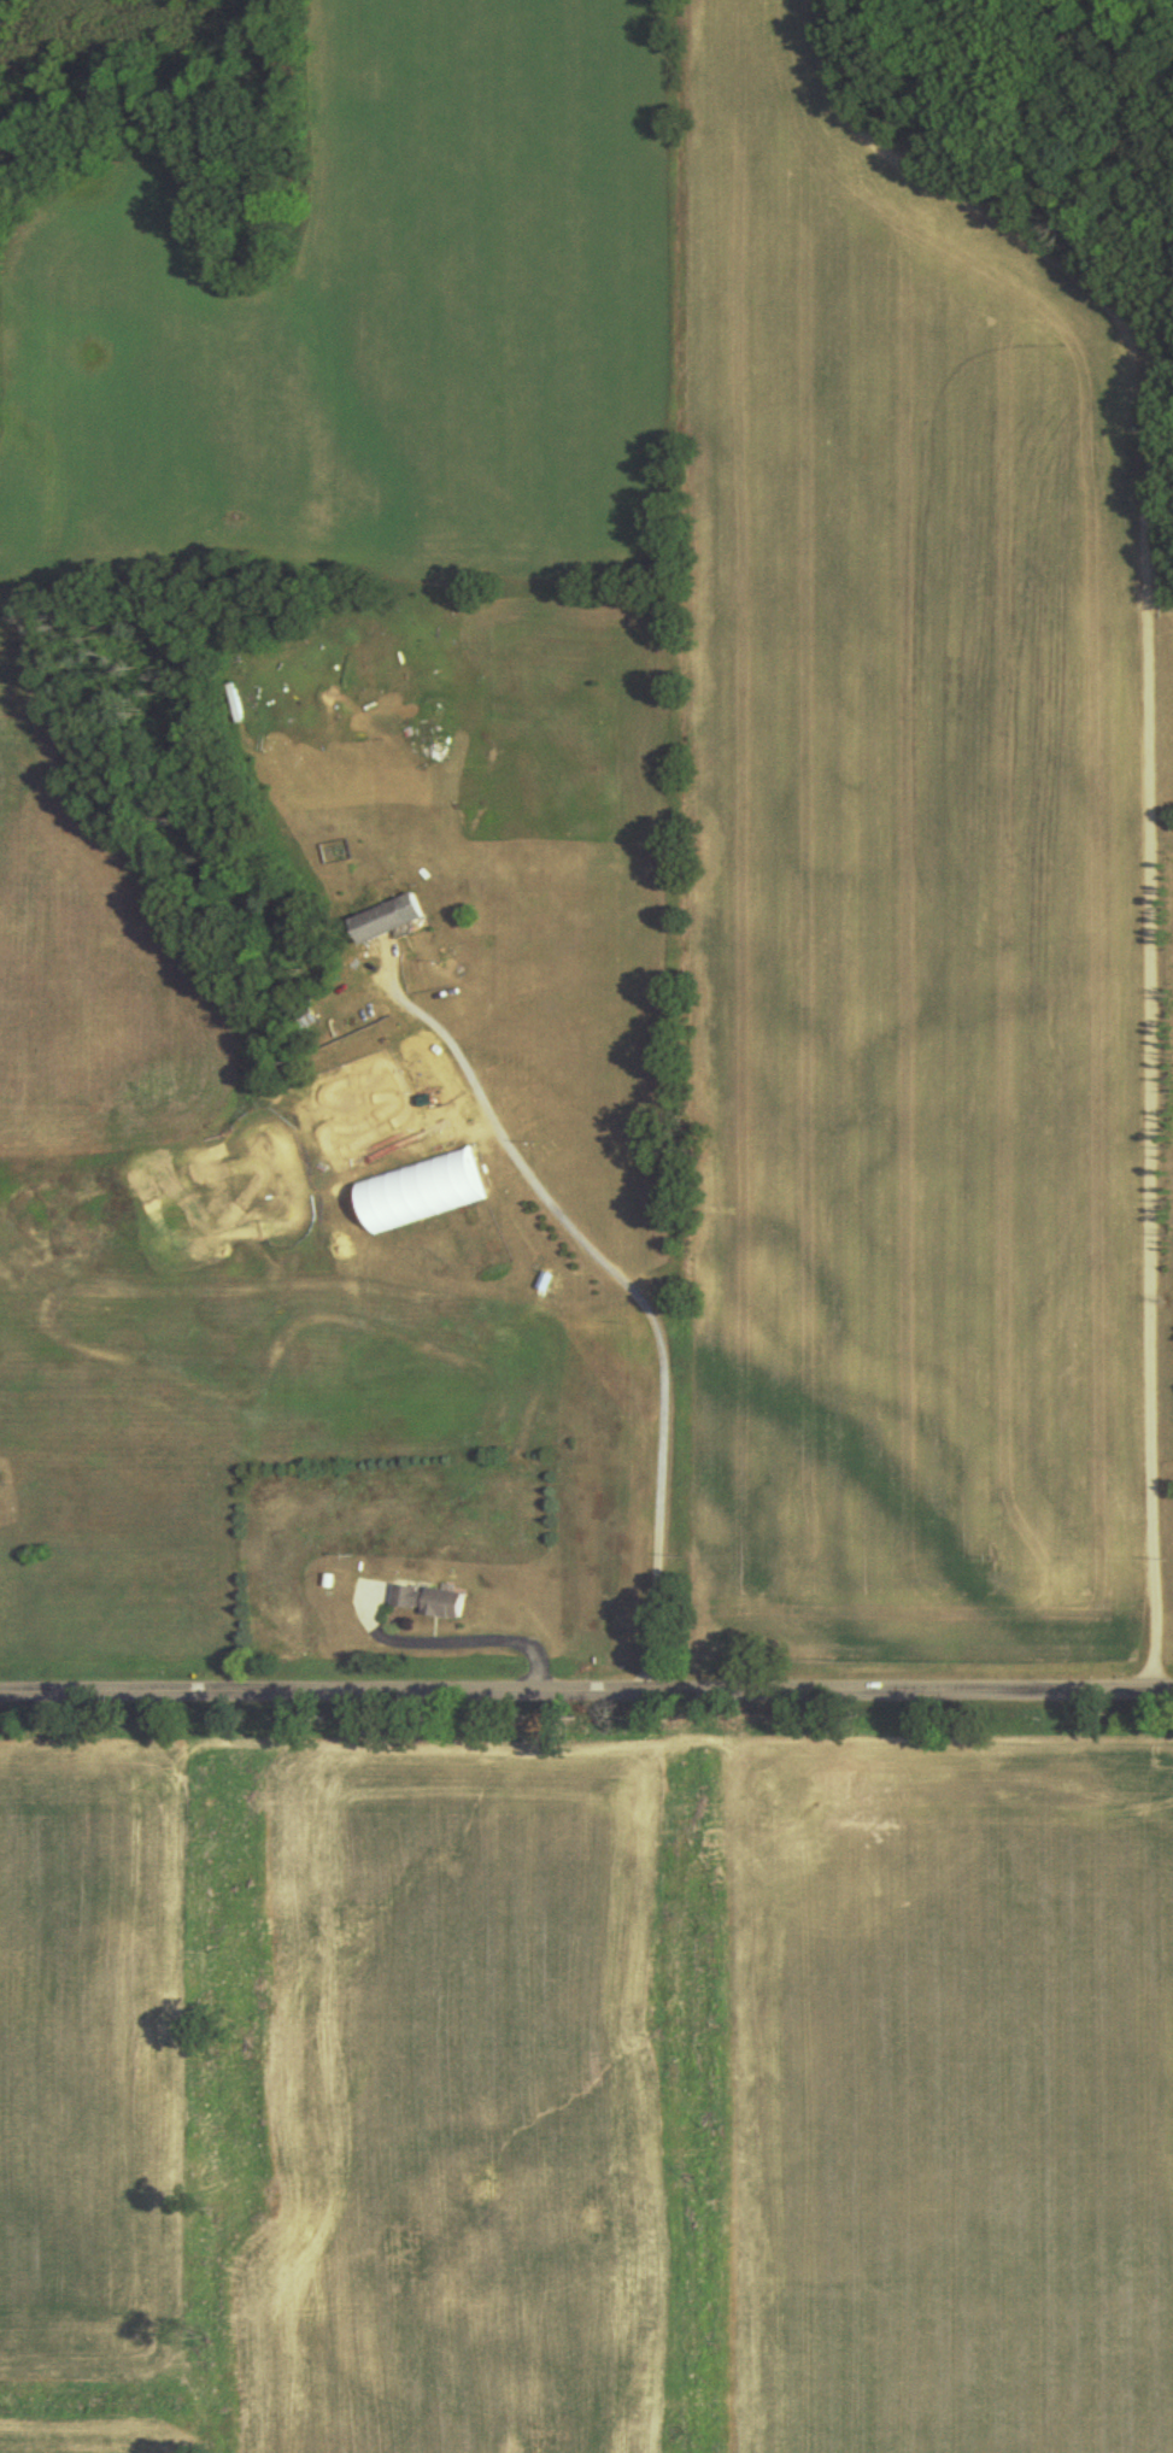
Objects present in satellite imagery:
building: (231, 704)
road: (1156, 790)
building: (381, 920)
building: (422, 1602)
road: (586, 1691)

